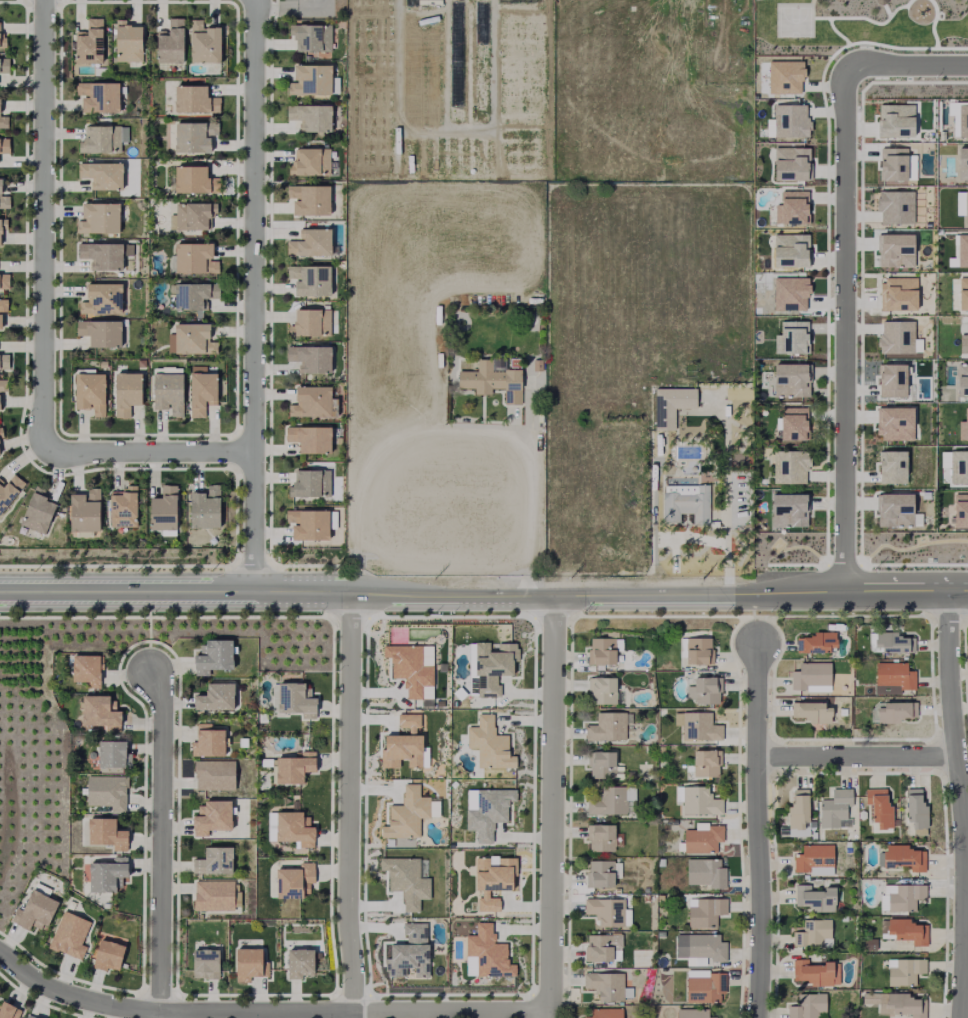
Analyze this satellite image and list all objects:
road: (810, 1)
building: (879, 2)
parking lot: (313, 8)
road: (289, 10)
road: (886, 10)
road: (866, 20)
park: (793, 21)
road: (932, 23)
park: (859, 27)
road: (835, 33)
building: (311, 38)
building: (3, 42)
building: (171, 43)
building: (90, 44)
building: (128, 44)
building: (204, 44)
road: (897, 49)
road: (906, 64)
building: (5, 66)
road: (447, 66)
building: (785, 77)
building: (311, 81)
building: (99, 96)
building: (195, 100)
building: (311, 118)
building: (790, 121)
building: (962, 121)
building: (4, 122)
building: (897, 126)
road: (446, 133)
building: (194, 137)
building: (100, 141)
building: (5, 146)
building: (962, 159)
building: (310, 162)
building: (792, 164)
building: (895, 167)
building: (468, 171)
building: (102, 175)
building: (195, 181)
building: (4, 199)
building: (310, 200)
building: (965, 205)
building: (895, 206)
building: (792, 207)
building: (193, 216)
building: (98, 219)
road: (43, 225)
building: (3, 227)
building: (310, 243)
building: (791, 251)
building: (897, 251)
building: (962, 251)
building: (102, 255)
building: (195, 259)
building: (310, 280)
building: (4, 282)
building: (791, 293)
building: (900, 294)
building: (962, 295)
road: (251, 296)
building: (195, 297)
building: (102, 300)
building: (3, 305)
building: (1, 322)
road: (269, 324)
building: (310, 324)
road: (844, 330)
building: (101, 333)
building: (896, 337)
building: (791, 339)
building: (191, 340)
building: (964, 341)
building: (311, 358)
building: (4, 363)
building: (100, 364)
building: (489, 376)
building: (792, 380)
building: (961, 380)
building: (893, 381)
building: (3, 386)
building: (91, 393)
building: (168, 393)
building: (202, 393)
building: (127, 394)
building: (669, 401)
building: (312, 403)
road: (483, 416)
road: (496, 421)
building: (795, 424)
building: (896, 424)
building: (963, 428)
road: (449, 431)
building: (1, 434)
building: (310, 439)
road: (147, 451)
building: (791, 467)
building: (893, 467)
building: (958, 468)
building: (311, 484)
building: (9, 491)
road: (726, 500)
building: (686, 501)
building: (123, 507)
building: (205, 509)
building: (38, 511)
building: (164, 511)
building: (789, 511)
building: (896, 511)
building: (85, 512)
building: (960, 514)
building: (309, 525)
road: (269, 536)
road: (652, 545)
road: (908, 547)
road: (806, 548)
park: (789, 551)
park: (912, 551)
road: (795, 565)
road: (913, 565)
road: (842, 566)
road: (127, 591)
road: (301, 591)
road: (549, 598)
road: (859, 598)
building: (966, 635)
building: (815, 644)
building: (888, 644)
building: (691, 650)
building: (600, 651)
building: (213, 658)
building: (493, 666)
building: (440, 667)
building: (410, 669)
building: (87, 670)
building: (808, 677)
building: (888, 678)
building: (700, 689)
building: (597, 691)
building: (216, 698)
building: (295, 701)
building: (438, 703)
building: (453, 703)
building: (890, 711)
building: (807, 712)
building: (100, 714)
building: (694, 726)
building: (603, 727)
building: (208, 742)
building: (404, 744)
building: (489, 744)
building: (113, 756)
road: (854, 757)
building: (264, 762)
building: (702, 762)
building: (597, 764)
building: (295, 768)
building: (215, 775)
building: (107, 792)
building: (608, 801)
building: (696, 801)
road: (346, 804)
road: (555, 807)
building: (832, 807)
road: (957, 807)
building: (876, 809)
building: (911, 809)
building: (489, 812)
building: (795, 813)
building: (407, 815)
building: (212, 818)
building: (270, 827)
building: (294, 829)
road: (756, 832)
building: (107, 834)
building: (599, 837)
building: (699, 839)
road: (161, 843)
building: (403, 845)
building: (902, 857)
building: (812, 860)
building: (659, 862)
building: (214, 863)
building: (597, 873)
building: (701, 873)
building: (108, 875)
building: (406, 881)
building: (493, 881)
building: (294, 882)
building: (644, 890)
building: (214, 895)
building: (900, 897)
building: (658, 898)
building: (811, 899)
building: (604, 912)
building: (34, 913)
building: (702, 913)
building: (900, 931)
building: (658, 934)
building: (811, 934)
building: (69, 935)
building: (595, 947)
building: (702, 947)
building: (410, 953)
building: (488, 953)
building: (109, 957)
building: (206, 964)
building: (300, 964)
building: (250, 965)
building: (470, 967)
building: (901, 971)
building: (805, 974)
building: (601, 985)
building: (702, 988)
building: (626, 993)
building: (899, 1005)
building: (805, 1007)
building: (8, 1011)
road: (169, 1012)
building: (603, 1013)
building: (688, 1013)
building: (30, 1016)
road: (452, 1017)
road: (551, 1017)
building: (714, 1017)

